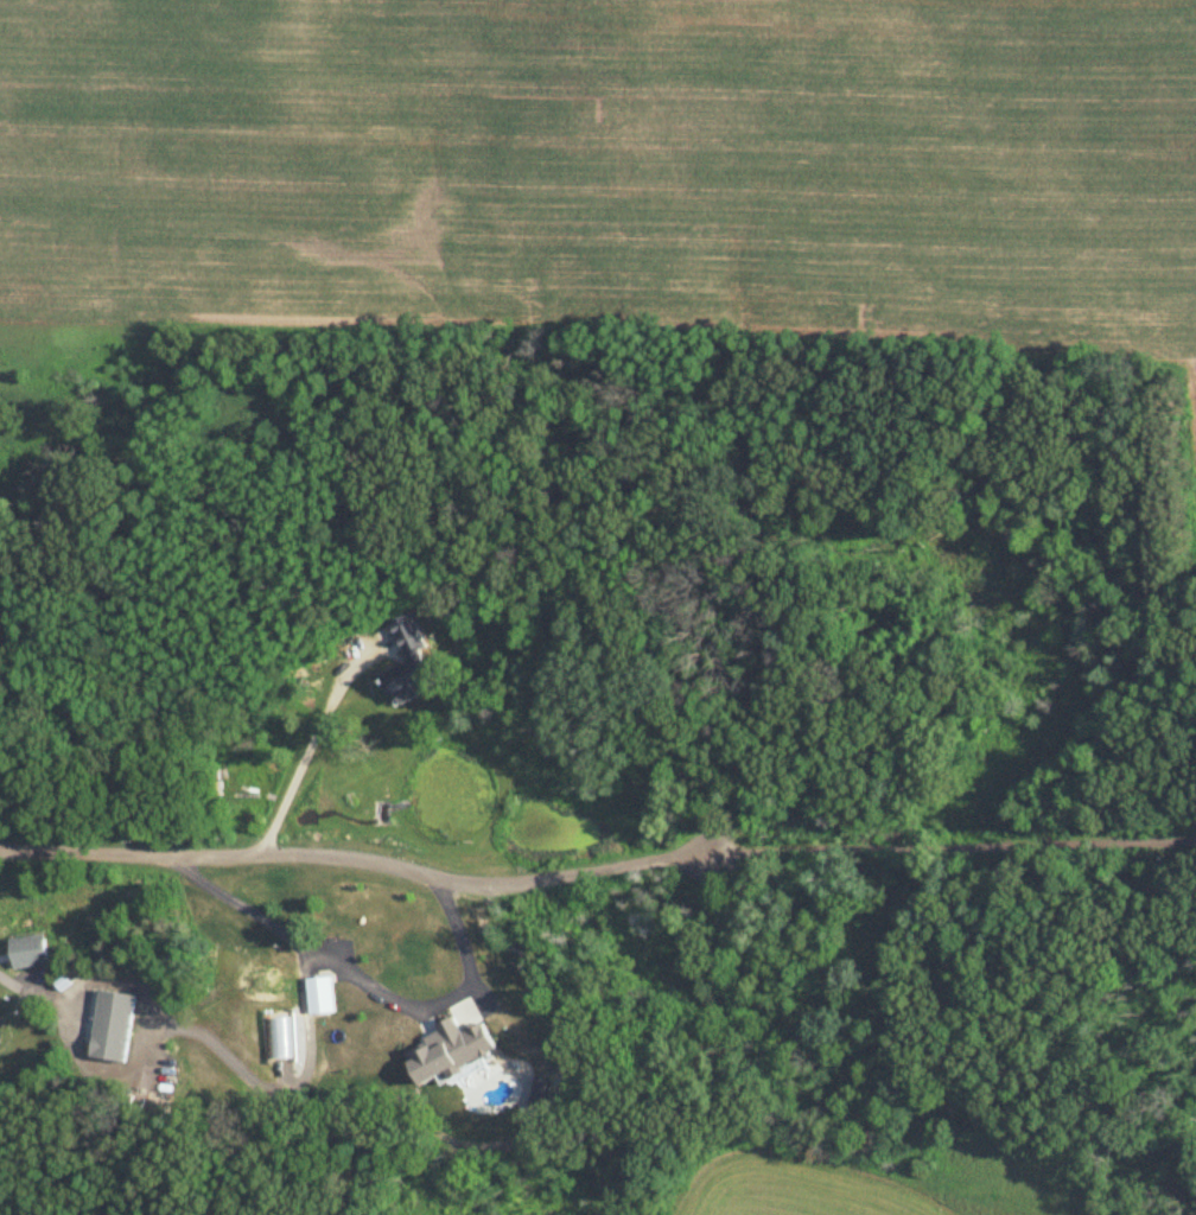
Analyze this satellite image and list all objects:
building: (412, 666)
road: (311, 746)
road: (958, 846)
road: (363, 858)
building: (30, 953)
road: (363, 980)
road: (38, 988)
building: (320, 995)
building: (114, 1028)

